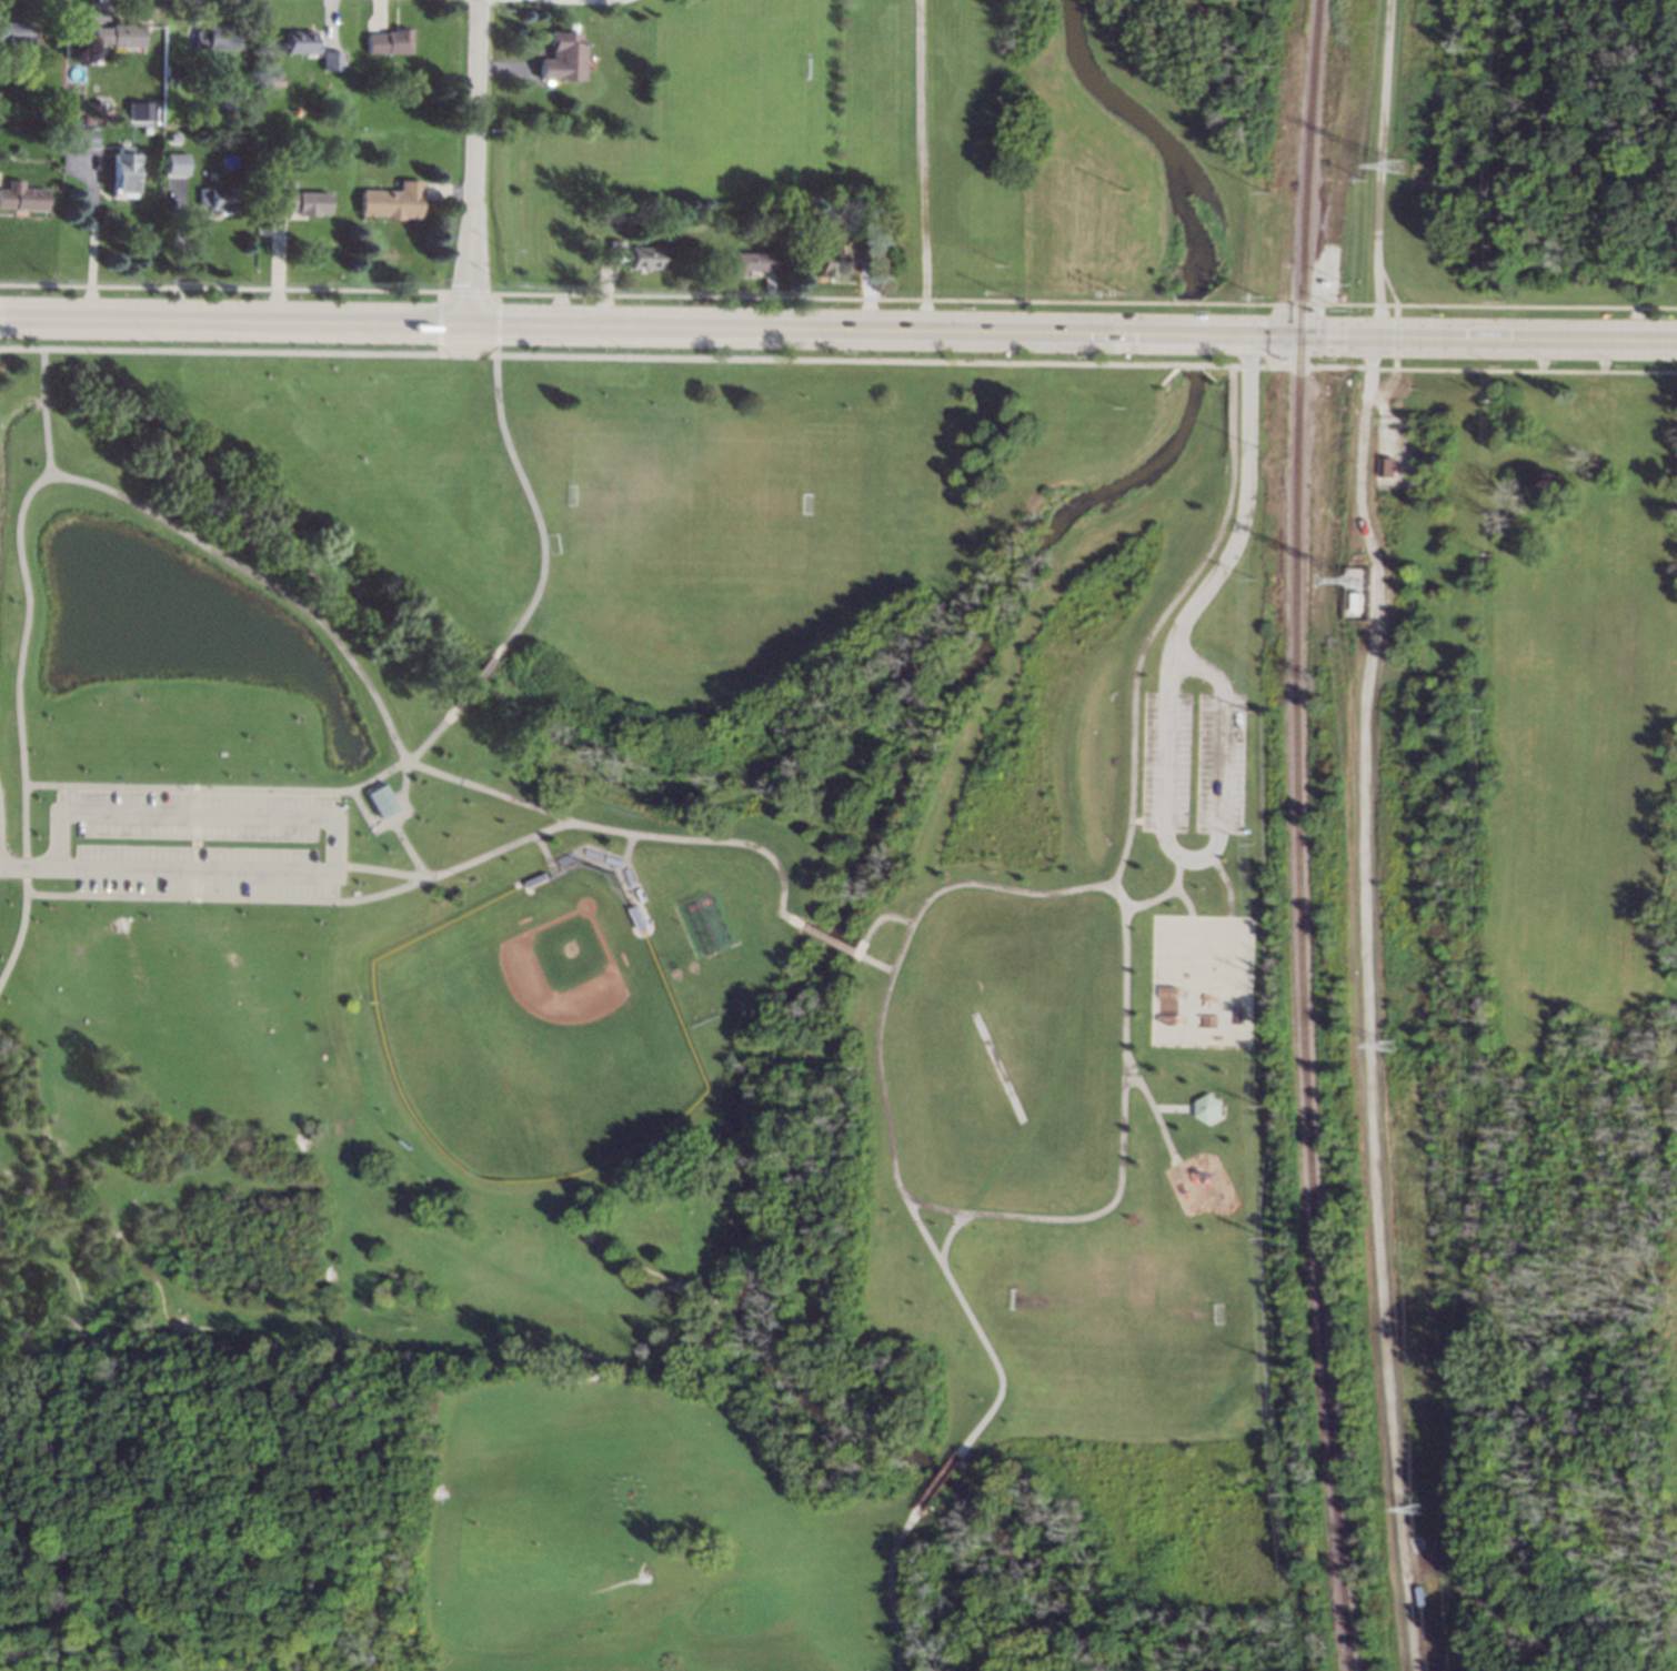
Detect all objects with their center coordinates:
building: (14, 31)
building: (118, 34)
building: (213, 36)
building: (300, 40)
building: (389, 41)
building: (563, 56)
building: (331, 59)
building: (172, 69)
building: (372, 77)
building: (273, 79)
building: (165, 91)
building: (268, 92)
building: (139, 111)
building: (47, 115)
building: (82, 119)
building: (80, 137)
building: (172, 137)
river: (1151, 138)
park: (1184, 150)
road: (478, 161)
park: (1552, 161)
building: (177, 163)
road: (923, 164)
building: (121, 172)
road: (1378, 184)
building: (23, 194)
building: (217, 198)
building: (393, 200)
building: (299, 201)
building: (769, 219)
road: (92, 235)
building: (868, 250)
building: (635, 254)
building: (756, 260)
building: (830, 262)
road: (1526, 305)
road: (837, 328)
river: (1188, 333)
road: (684, 358)
road: (41, 411)
building: (1385, 466)
road: (83, 482)
road: (534, 510)
park: (679, 517)
building: (1355, 602)
road: (1158, 621)
road: (473, 684)
road: (1167, 719)
parking lot: (1165, 761)
parking lot: (1219, 763)
road: (218, 786)
building: (380, 799)
park: (1666, 801)
road: (339, 816)
road: (393, 817)
road: (593, 826)
railway: (1297, 835)
parking lot: (195, 840)
parking lot: (60, 842)
road: (409, 847)
road: (29, 865)
road: (382, 869)
road: (1224, 882)
road: (1164, 894)
road: (288, 899)
road: (1184, 900)
road: (866, 937)
road: (17, 938)
road: (829, 938)
park: (1197, 979)
park: (1545, 999)
park: (631, 1004)
park: (540, 1027)
river: (772, 1031)
road: (1148, 1106)
building: (1206, 1106)
road: (1171, 1107)
road: (995, 1215)
road: (946, 1235)
road: (974, 1326)
road: (938, 1481)
road: (887, 1584)

